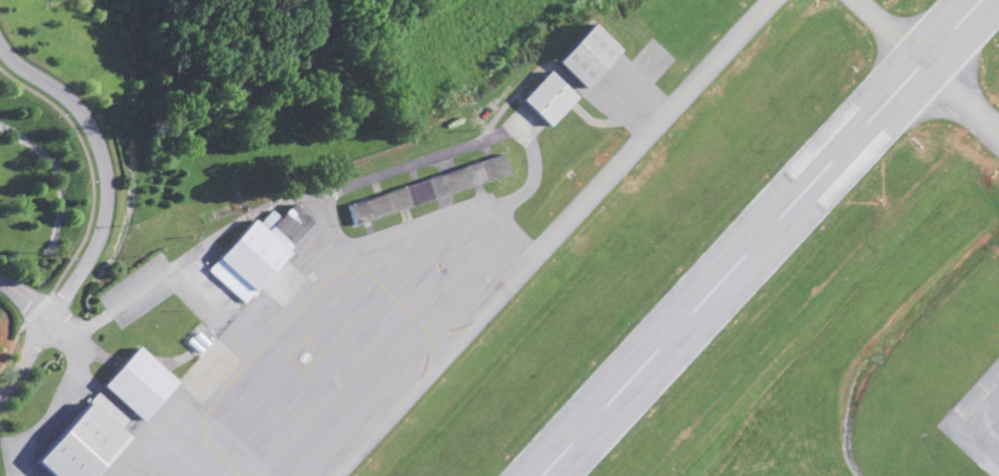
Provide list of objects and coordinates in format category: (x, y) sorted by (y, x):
building: (579, 56)
airport taxiway: (929, 67)
building: (540, 101)
road: (105, 165)
building: (490, 168)
airport taxiway: (547, 237)
airport runway: (757, 237)
building: (254, 251)
airport: (573, 264)
road: (25, 299)
road: (59, 320)
airport apron: (321, 345)
building: (133, 384)
airport apron: (977, 421)
building: (80, 441)

